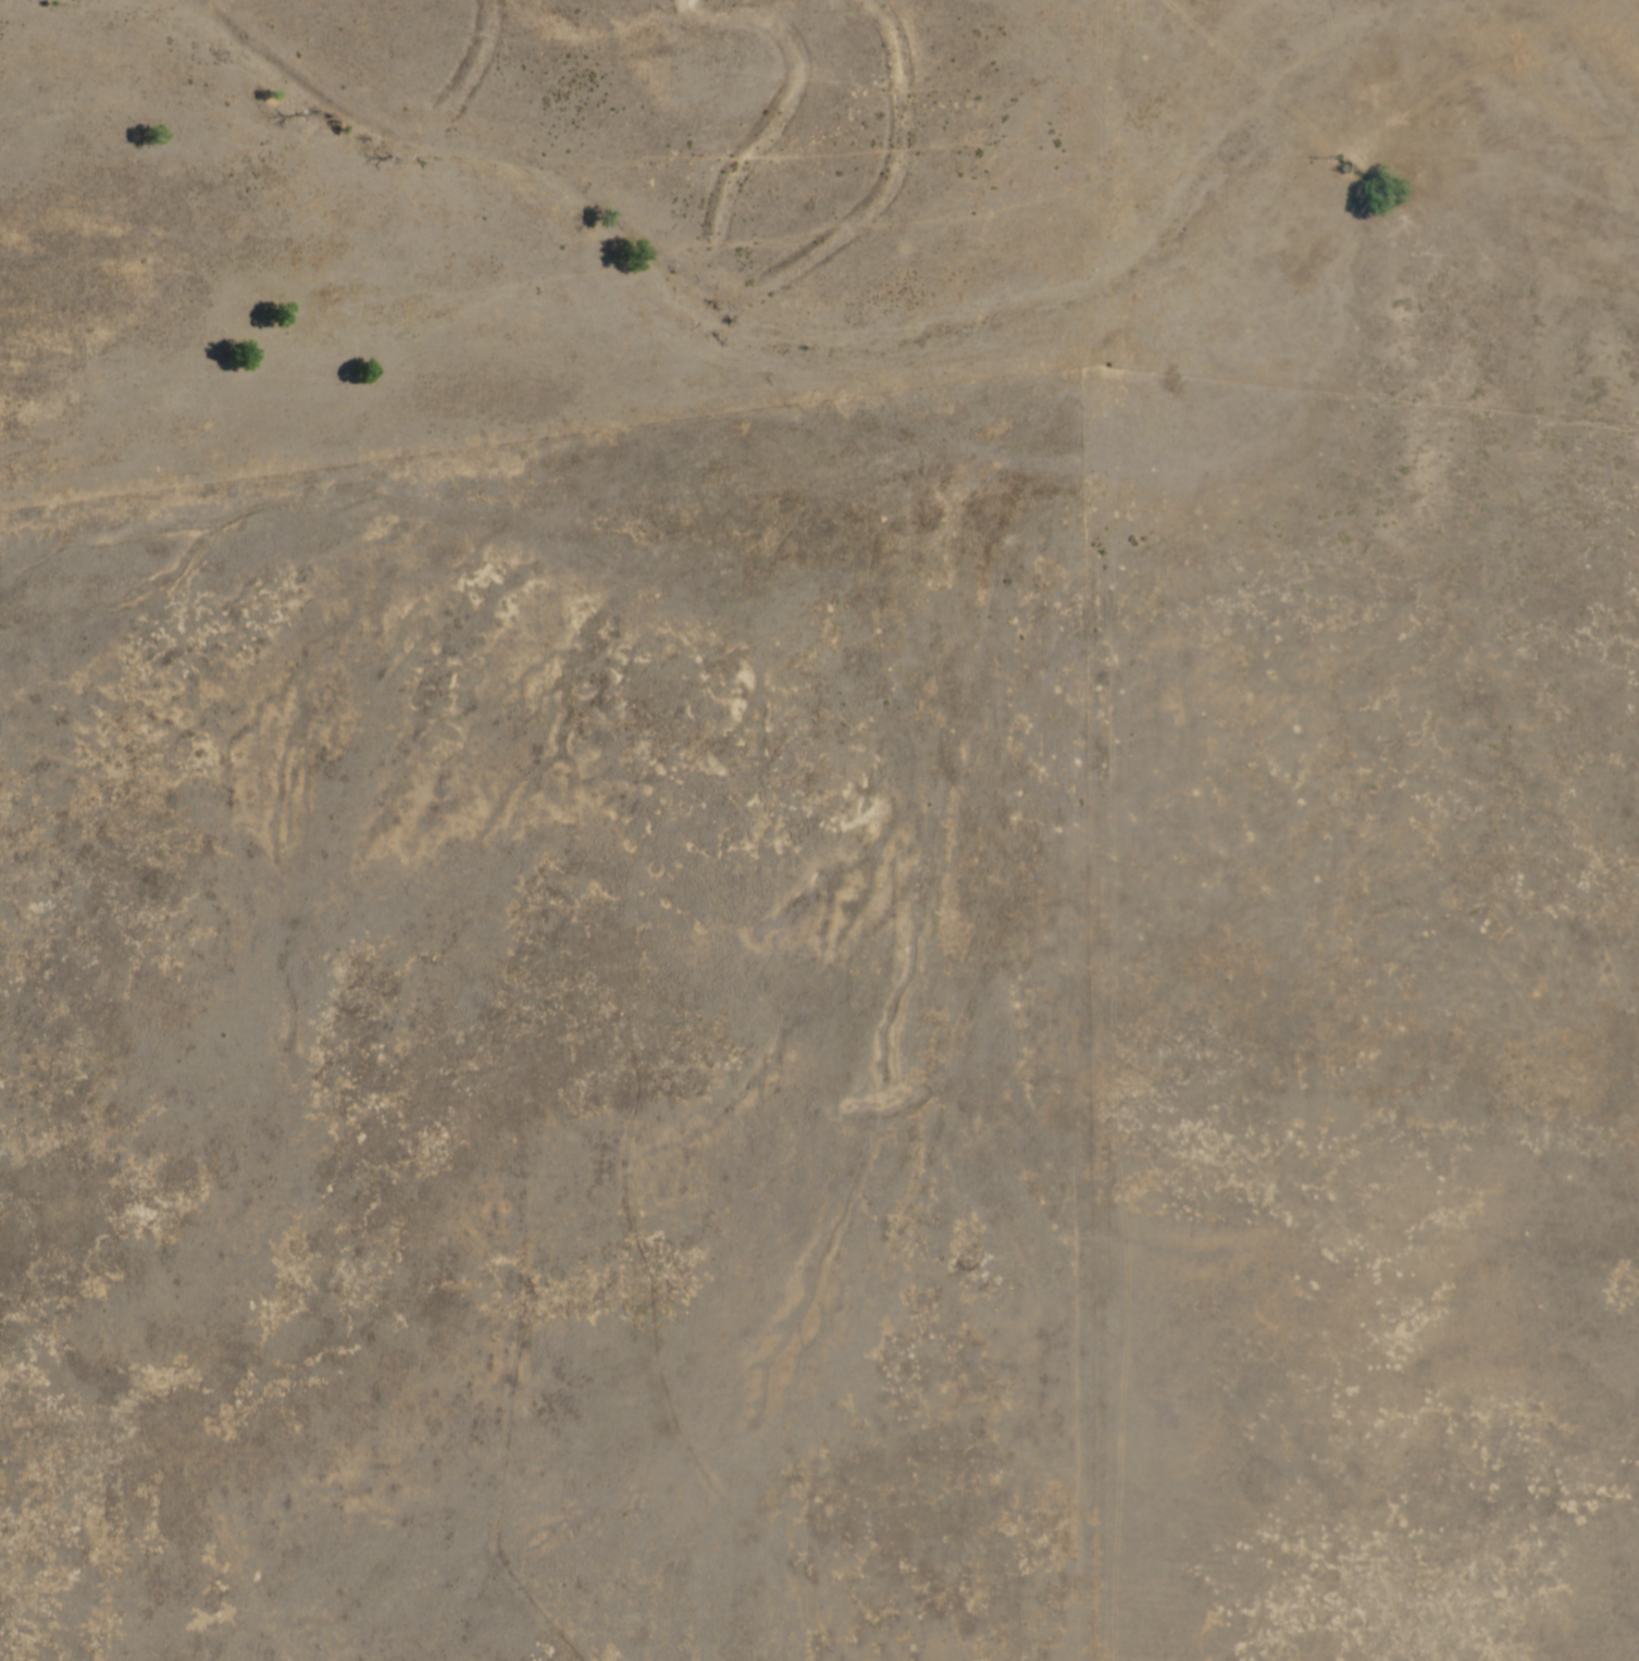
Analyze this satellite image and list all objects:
road: (1350, 34)

